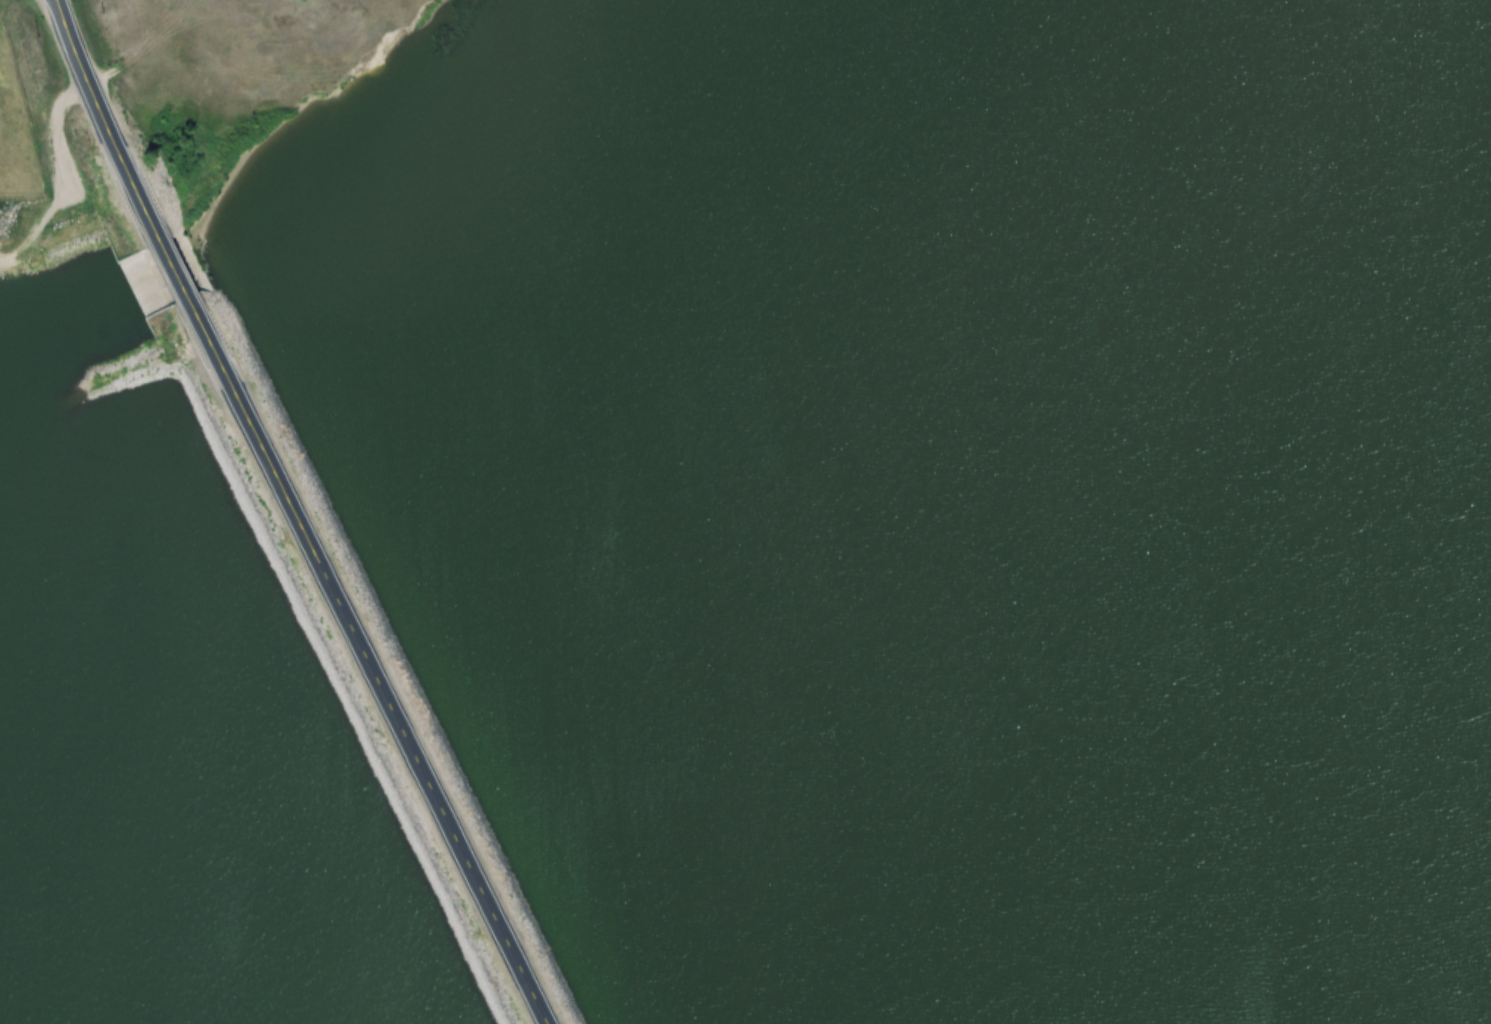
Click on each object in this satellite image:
road: (97, 113)
road: (176, 274)
road: (374, 674)

